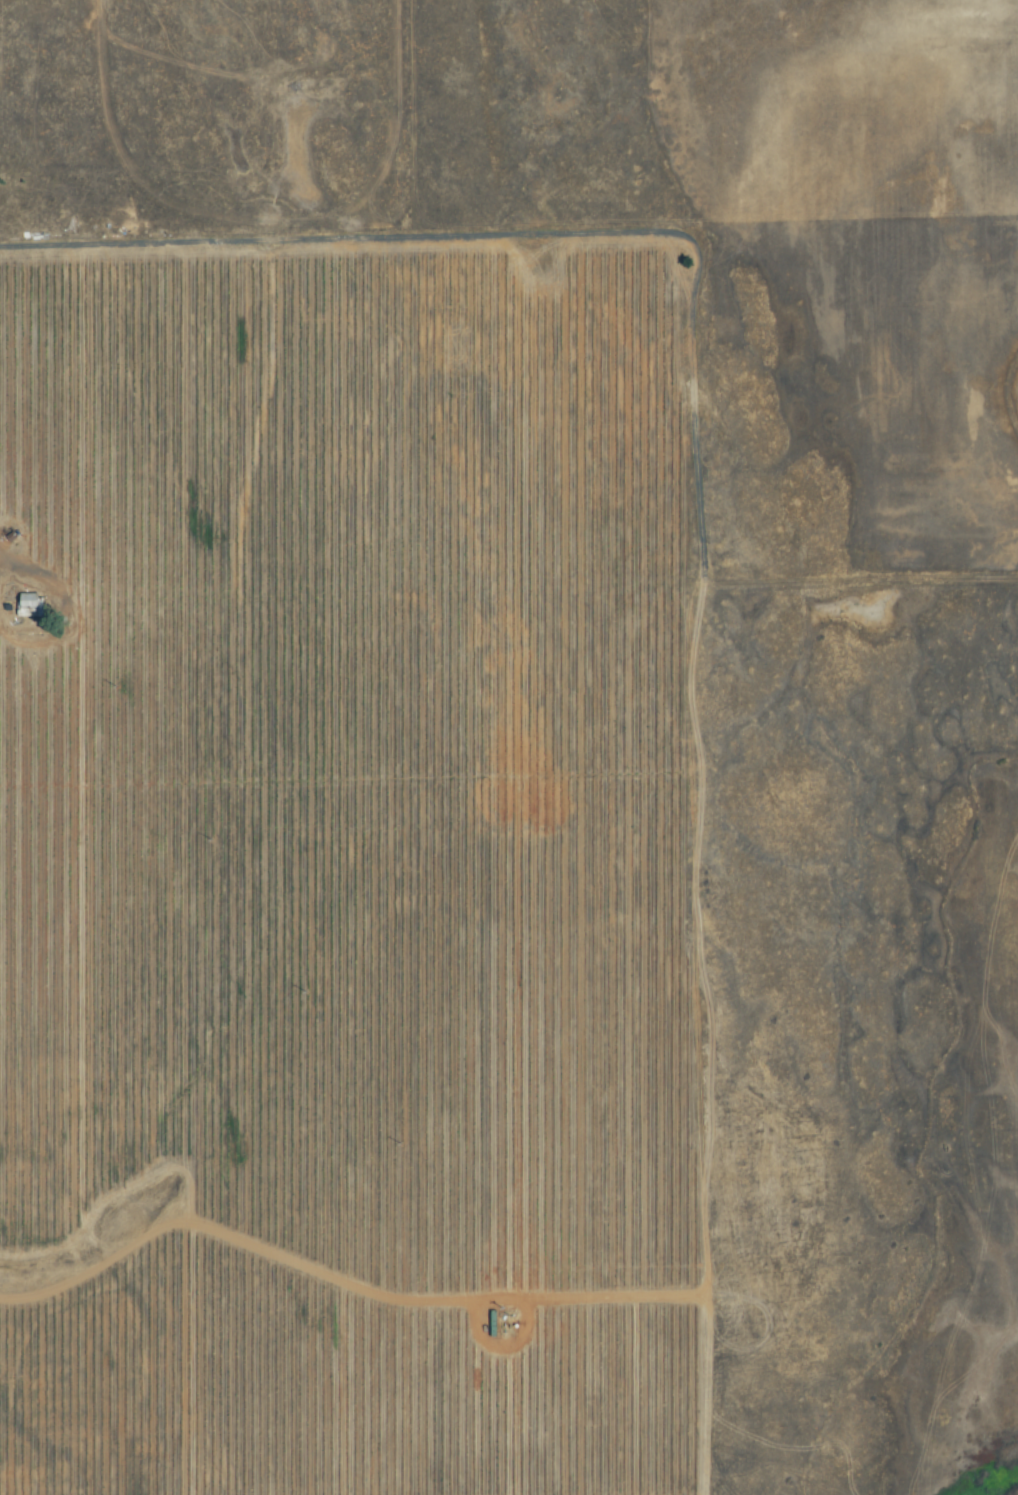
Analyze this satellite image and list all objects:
road: (13, 561)

